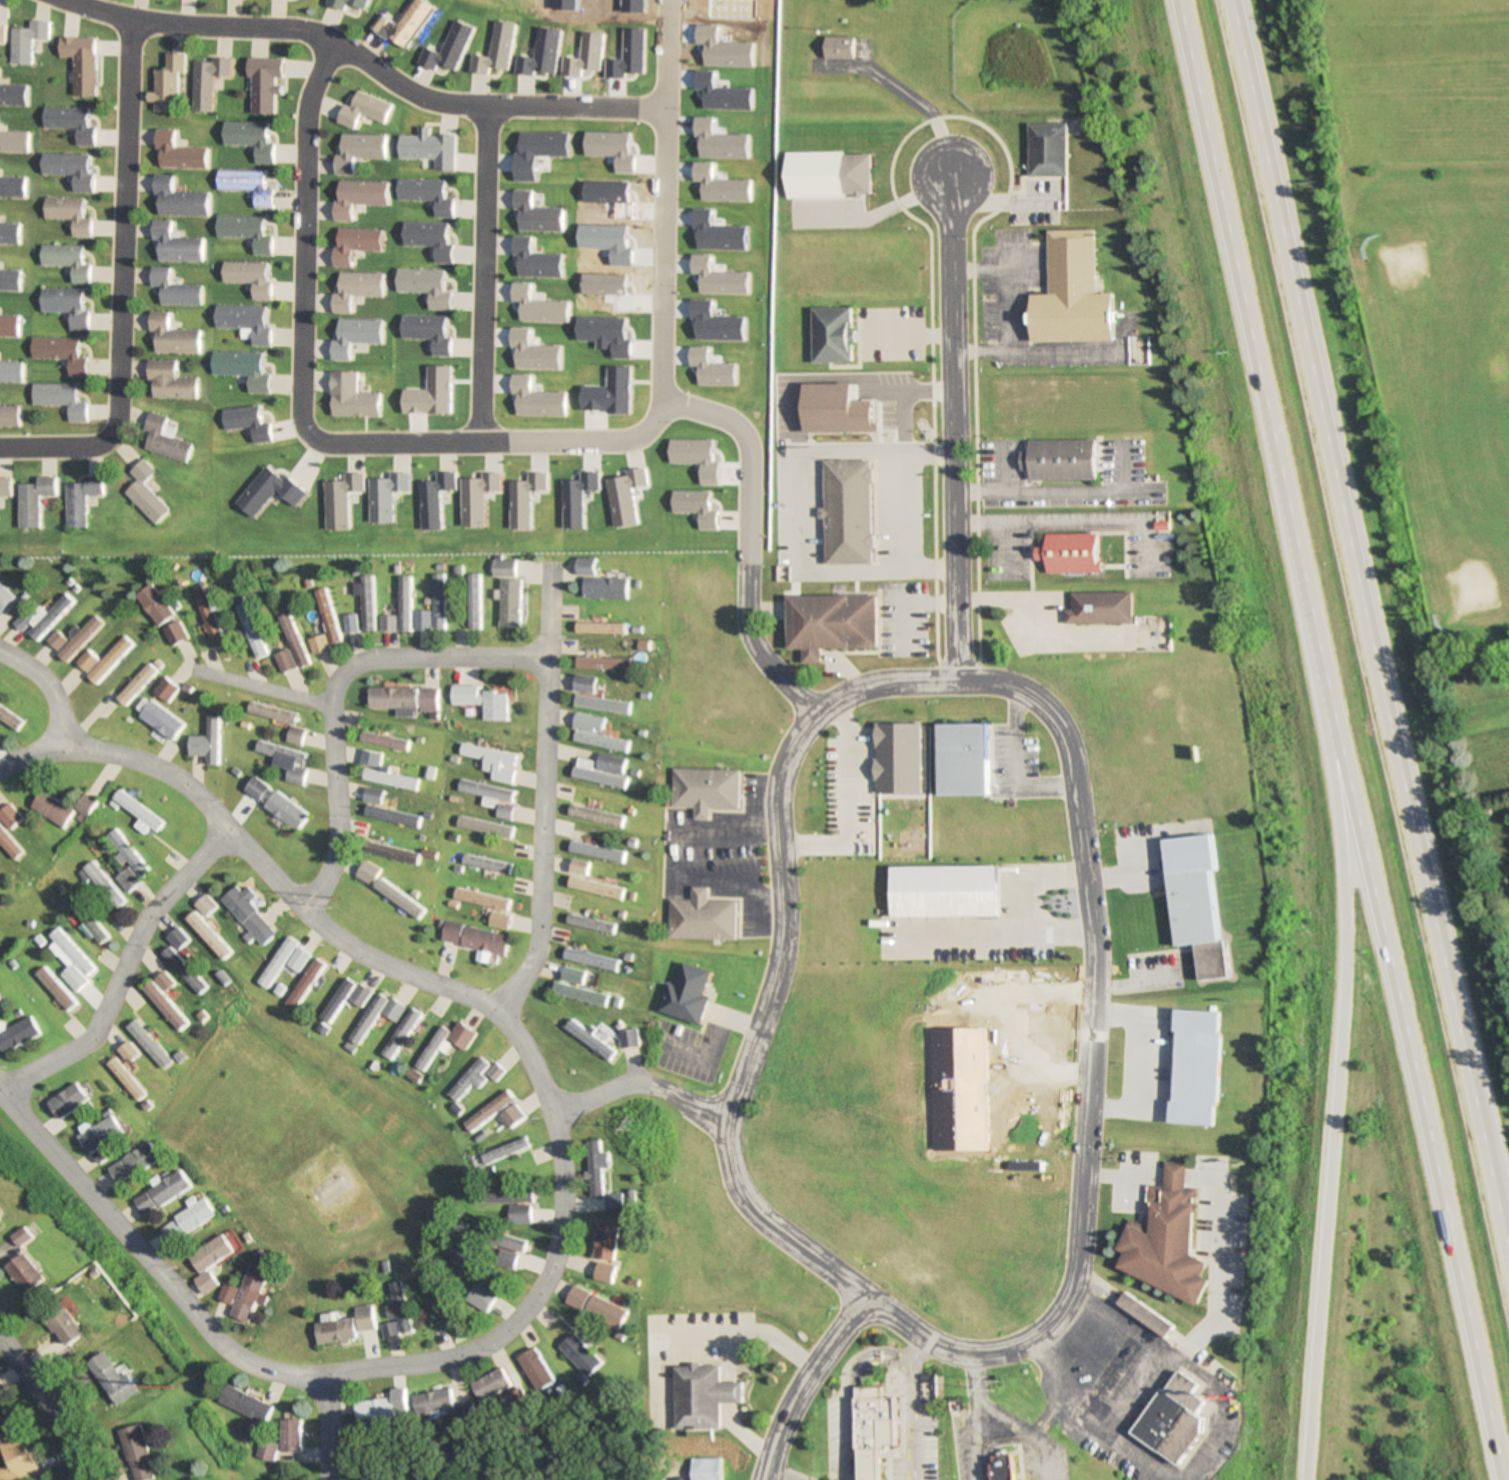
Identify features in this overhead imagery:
building: (340, 6)
building: (27, 40)
building: (842, 48)
building: (81, 63)
road: (376, 66)
building: (207, 81)
building: (266, 83)
building: (167, 84)
building: (13, 95)
building: (70, 122)
building: (250, 138)
building: (14, 141)
building: (1050, 149)
building: (359, 150)
building: (177, 152)
building: (71, 168)
building: (246, 185)
building: (12, 187)
road: (666, 198)
building: (178, 199)
building: (69, 214)
road: (122, 226)
building: (245, 232)
building: (9, 234)
building: (175, 244)
building: (66, 260)
road: (479, 270)
building: (10, 280)
building: (175, 289)
building: (1075, 294)
building: (66, 305)
building: (8, 326)
building: (834, 335)
building: (173, 336)
building: (61, 353)
building: (242, 369)
building: (10, 372)
building: (169, 381)
building: (60, 399)
building: (8, 417)
road: (305, 418)
road: (953, 430)
building: (165, 438)
road: (56, 448)
building: (1063, 460)
building: (5, 487)
building: (145, 493)
building: (80, 500)
building: (33, 501)
building: (848, 512)
road: (745, 541)
building: (1074, 553)
building: (503, 568)
building: (599, 582)
building: (4, 598)
building: (365, 601)
building: (472, 602)
building: (509, 604)
building: (155, 606)
building: (1103, 608)
building: (399, 609)
building: (432, 609)
building: (327, 616)
building: (43, 618)
building: (210, 622)
building: (350, 624)
building: (831, 624)
building: (599, 628)
road: (1372, 629)
building: (251, 631)
building: (73, 640)
building: (293, 641)
building: (317, 645)
building: (109, 660)
building: (284, 661)
building: (85, 662)
building: (602, 664)
building: (584, 684)
building: (135, 685)
road: (254, 687)
road: (40, 690)
building: (165, 690)
road: (335, 691)
road: (1024, 694)
building: (392, 698)
building: (427, 700)
building: (483, 702)
building: (600, 705)
building: (271, 713)
building: (9, 720)
building: (160, 721)
building: (586, 723)
building: (294, 735)
road: (1341, 740)
building: (599, 741)
building: (206, 743)
building: (964, 760)
building: (285, 761)
building: (491, 762)
building: (601, 771)
building: (388, 779)
building: (703, 790)
building: (485, 792)
building: (371, 795)
road: (537, 796)
road: (840, 801)
building: (274, 803)
building: (83, 805)
building: (50, 809)
building: (503, 811)
building: (136, 812)
building: (390, 816)
building: (594, 816)
building: (9, 817)
building: (483, 827)
building: (9, 845)
building: (595, 851)
building: (389, 852)
building: (127, 863)
building: (485, 863)
building: (588, 882)
building: (102, 885)
building: (1195, 890)
building: (393, 895)
building: (480, 898)
building: (204, 906)
power tower: (336, 906)
building: (247, 914)
building: (700, 918)
building: (85, 919)
building: (589, 923)
building: (207, 936)
building: (475, 938)
building: (71, 952)
building: (589, 959)
building: (276, 962)
road: (117, 971)
building: (183, 971)
building: (575, 976)
building: (73, 978)
building: (163, 982)
building: (303, 984)
building: (55, 989)
building: (578, 994)
building: (687, 996)
building: (344, 998)
building: (0, 1003)
building: (164, 1006)
road: (486, 1010)
building: (374, 1016)
building: (400, 1034)
building: (19, 1036)
building: (461, 1036)
building: (589, 1039)
building: (628, 1039)
building: (147, 1045)
building: (431, 1049)
building: (126, 1053)
building: (1194, 1068)
building: (473, 1078)
building: (124, 1080)
road: (638, 1081)
road: (1335, 1084)
building: (68, 1101)
building: (488, 1112)
building: (513, 1117)
power tower: (637, 1125)
building: (99, 1135)
building: (503, 1151)
building: (132, 1164)
building: (595, 1167)
building: (168, 1189)
building: (504, 1197)
building: (613, 1203)
building: (143, 1204)
building: (518, 1215)
building: (0, 1218)
building: (185, 1222)
building: (1163, 1234)
building: (497, 1240)
building: (603, 1243)
road: (130, 1248)
building: (505, 1261)
building: (209, 1262)
building: (474, 1273)
building: (26, 1274)
road: (857, 1291)
building: (224, 1294)
building: (247, 1294)
building: (479, 1300)
building: (441, 1301)
building: (593, 1308)
building: (400, 1309)
building: (1144, 1316)
building: (346, 1327)
building: (65, 1328)
building: (390, 1331)
road: (912, 1346)
road: (876, 1348)
building: (578, 1356)
building: (534, 1370)
building: (1111, 1375)
building: (110, 1380)
road: (972, 1381)
road: (802, 1382)
power tower: (154, 1385)
building: (489, 1385)
power tower: (991, 1385)
building: (694, 1395)
road: (1127, 1397)
building: (433, 1402)
building: (243, 1405)
road: (44, 1406)
building: (375, 1411)
building: (465, 1412)
road: (1046, 1412)
road: (992, 1414)
building: (1174, 1421)
road: (326, 1428)
building: (874, 1430)
building: (289, 1437)
building: (265, 1451)
building: (133, 1454)
building: (14, 1455)
building: (1003, 1466)
building: (703, 1469)
road: (777, 1474)

